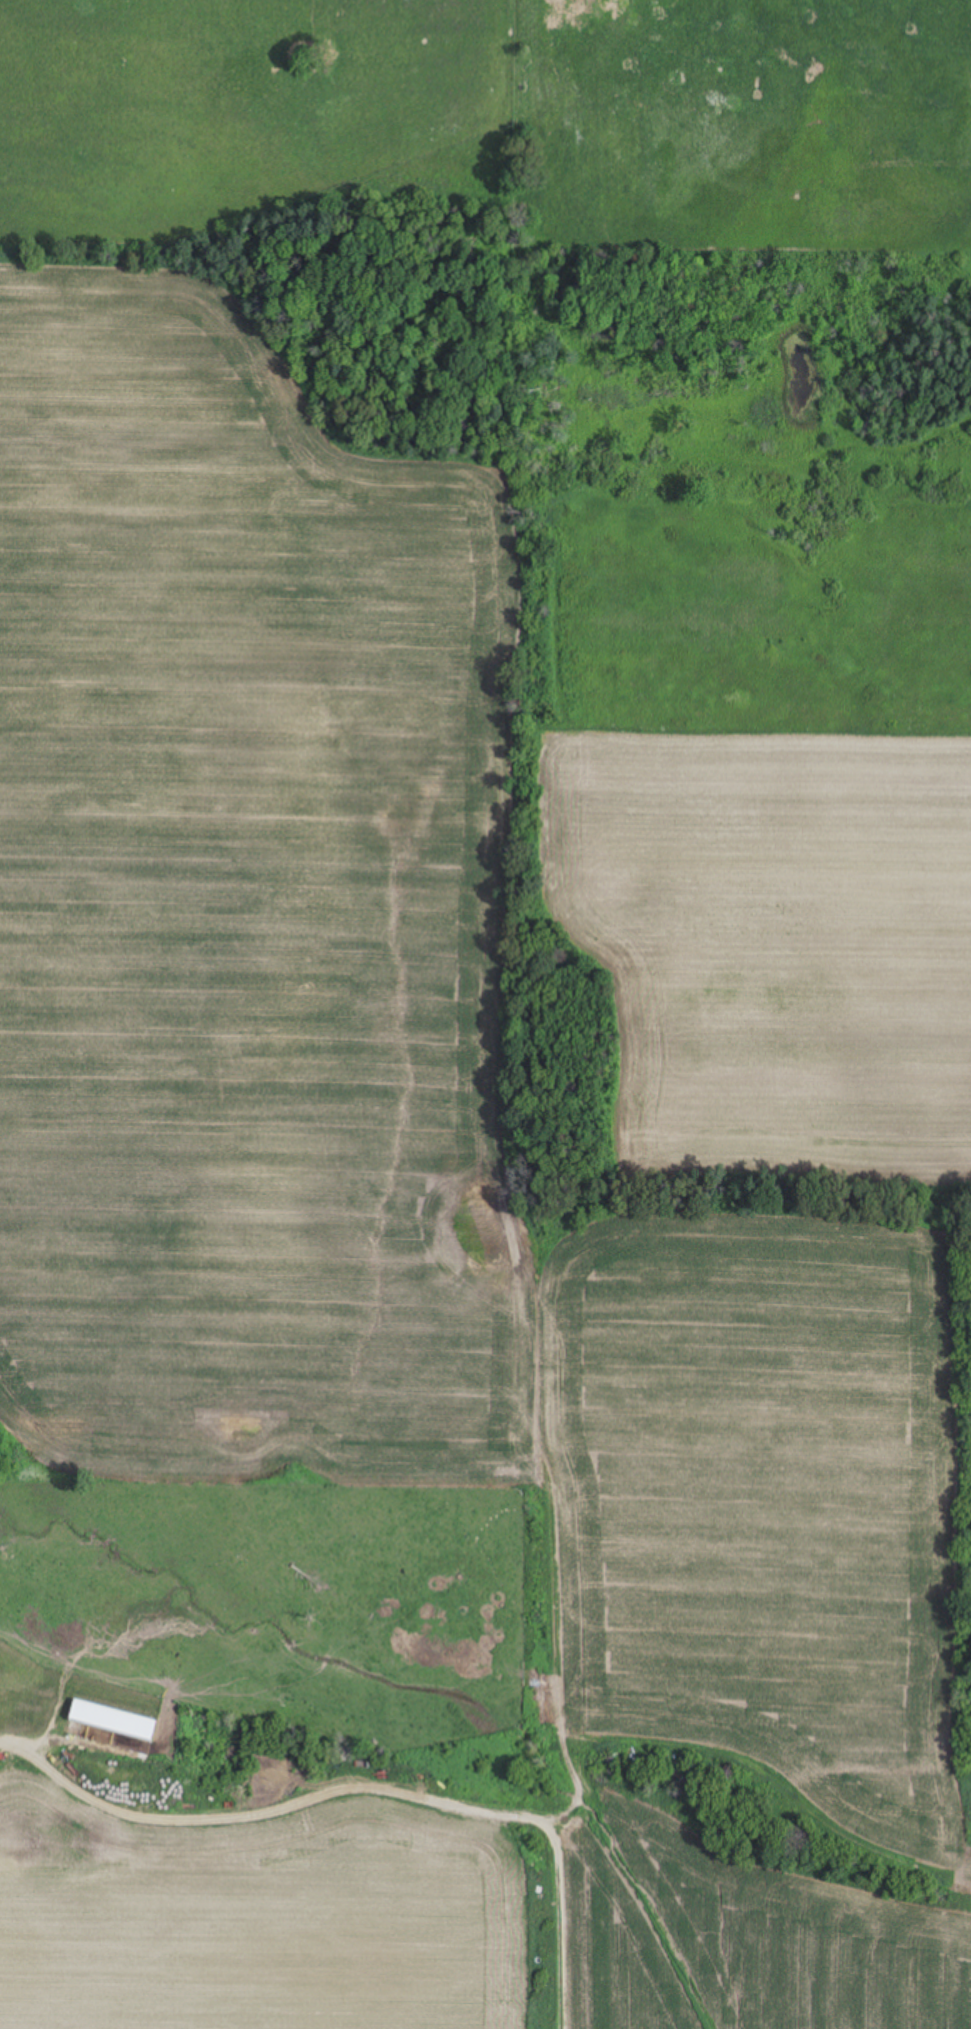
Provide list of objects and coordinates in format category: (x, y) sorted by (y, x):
building: (111, 1720)
building: (15, 1877)

